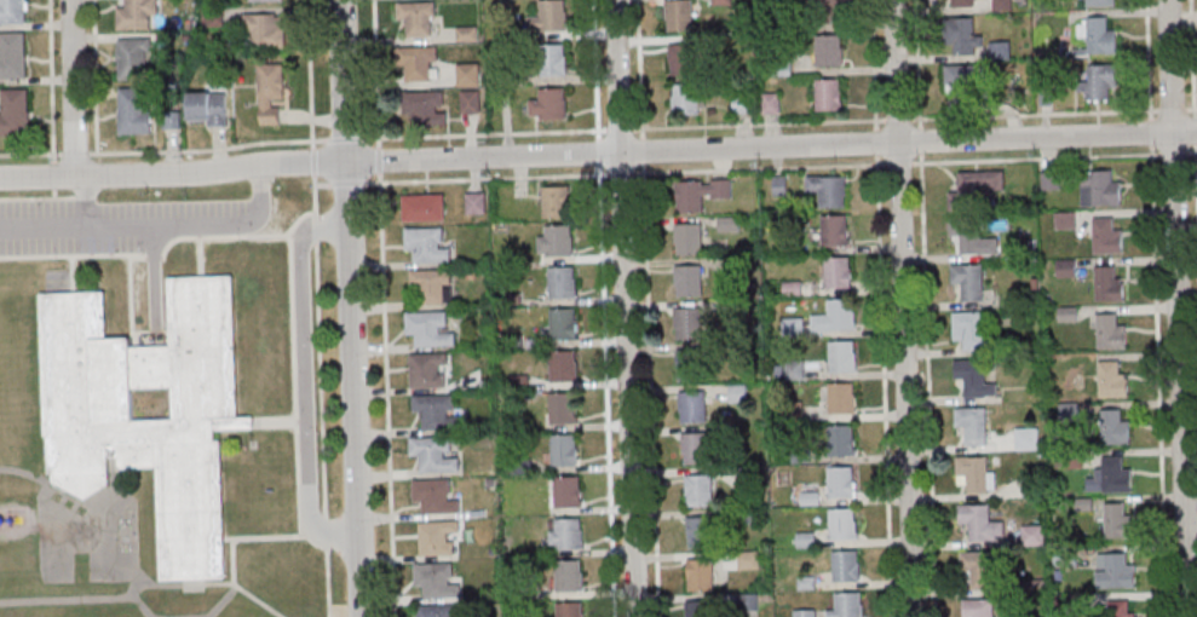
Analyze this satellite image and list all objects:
building: (266, 0)
building: (963, 2)
building: (1100, 2)
building: (1002, 6)
building: (833, 10)
building: (12, 12)
building: (137, 13)
building: (680, 15)
building: (213, 16)
building: (418, 17)
building: (551, 17)
building: (265, 29)
building: (966, 35)
building: (1099, 36)
building: (828, 51)
building: (12, 54)
building: (134, 58)
building: (681, 58)
road: (1149, 58)
road: (1191, 58)
building: (553, 60)
building: (419, 63)
road: (873, 63)
road: (917, 63)
road: (639, 69)
road: (595, 70)
road: (376, 73)
road: (310, 74)
building: (468, 74)
road: (94, 76)
building: (961, 79)
road: (51, 80)
building: (1099, 82)
road: (75, 88)
building: (271, 93)
building: (829, 94)
building: (687, 98)
building: (470, 102)
building: (770, 102)
building: (549, 104)
building: (426, 106)
building: (208, 108)
road: (1192, 109)
building: (134, 110)
building: (15, 113)
road: (1035, 115)
road: (759, 123)
road: (484, 133)
road: (208, 149)
road: (598, 151)
road: (1191, 151)
road: (75, 152)
road: (30, 154)
road: (1196, 167)
building: (974, 188)
building: (1099, 188)
building: (828, 190)
building: (701, 192)
building: (556, 201)
building: (476, 203)
building: (424, 207)
building: (1065, 220)
road: (172, 221)
parking lot: (110, 224)
road: (42, 226)
building: (834, 229)
building: (1106, 236)
building: (973, 237)
building: (689, 238)
building: (556, 240)
building: (427, 244)
road: (150, 255)
road: (200, 256)
building: (1066, 267)
building: (839, 273)
road: (71, 275)
road: (154, 277)
building: (687, 281)
building: (562, 282)
building: (968, 282)
building: (1109, 284)
building: (432, 286)
road: (132, 299)
road: (351, 307)
road: (626, 307)
road: (1179, 307)
road: (904, 308)
building: (838, 316)
building: (687, 322)
building: (563, 323)
building: (431, 327)
building: (973, 330)
building: (1110, 331)
building: (842, 357)
building: (690, 364)
building: (563, 367)
building: (427, 369)
building: (794, 370)
building: (974, 377)
building: (1112, 379)
road: (304, 380)
road: (294, 381)
road: (1158, 381)
road: (321, 382)
building: (737, 393)
building: (841, 399)
building: (692, 406)
building: (437, 411)
building: (563, 411)
road: (275, 421)
building: (972, 425)
building: (149, 427)
building: (1116, 427)
building: (1026, 439)
building: (842, 442)
building: (696, 448)
building: (564, 449)
building: (435, 455)
road: (114, 469)
road: (23, 472)
building: (976, 474)
building: (1113, 477)
building: (840, 482)
building: (698, 489)
building: (566, 491)
building: (435, 496)
building: (1113, 519)
building: (842, 523)
building: (980, 524)
building: (698, 531)
building: (565, 534)
road: (261, 536)
building: (1032, 536)
building: (438, 537)
building: (749, 559)
building: (846, 565)
building: (978, 571)
building: (1115, 572)
building: (701, 573)
building: (569, 575)
road: (138, 578)
building: (437, 579)
road: (240, 587)
road: (67, 598)
road: (139, 602)
building: (847, 605)
building: (697, 609)
building: (978, 609)
building: (1121, 609)
building: (570, 610)
building: (439, 611)
building: (804, 613)

